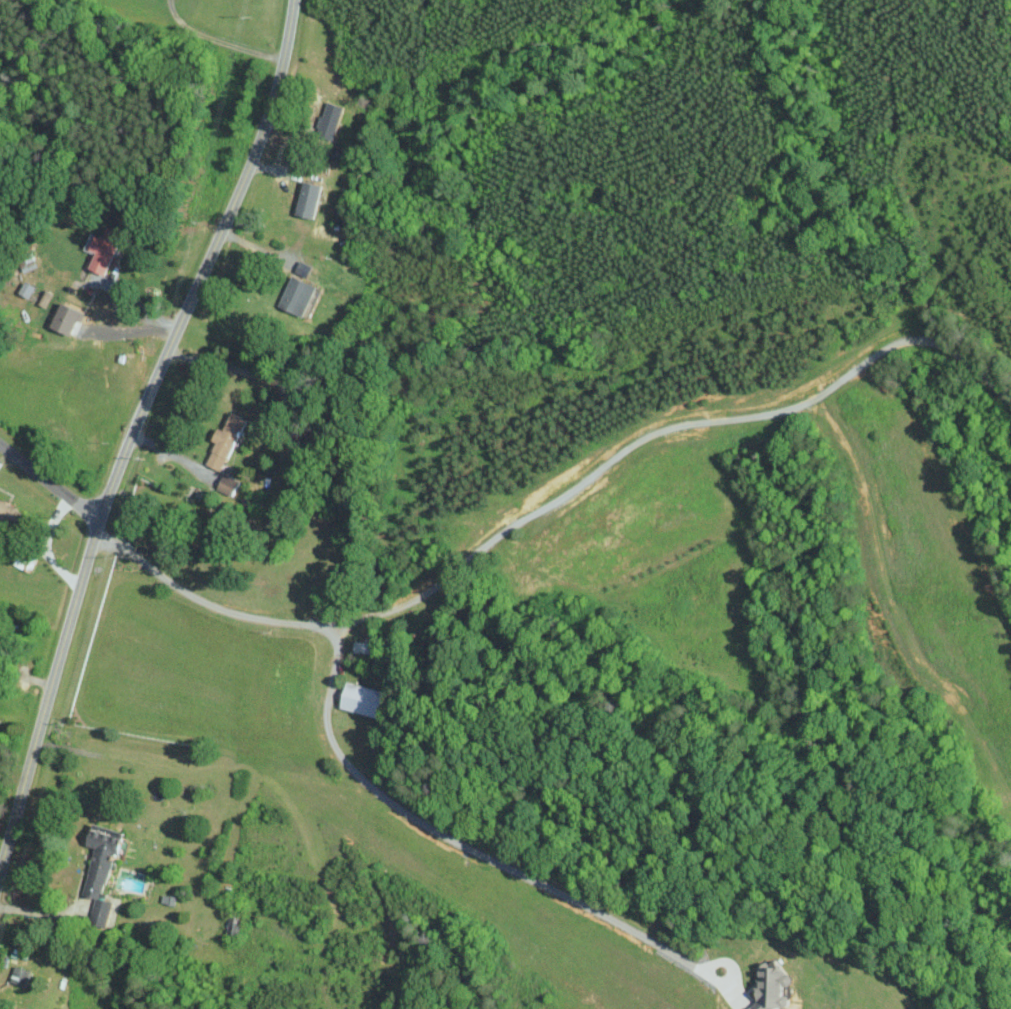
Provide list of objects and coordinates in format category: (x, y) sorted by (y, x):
road: (216, 39)
building: (332, 118)
building: (310, 199)
building: (104, 250)
building: (26, 289)
building: (300, 291)
road: (135, 302)
building: (69, 318)
road: (215, 362)
road: (135, 430)
building: (227, 439)
road: (175, 456)
road: (50, 485)
road: (560, 498)
building: (10, 512)
road: (45, 546)
building: (365, 647)
building: (362, 698)
road: (461, 844)
building: (103, 869)
road: (42, 909)
building: (21, 975)
building: (777, 988)

